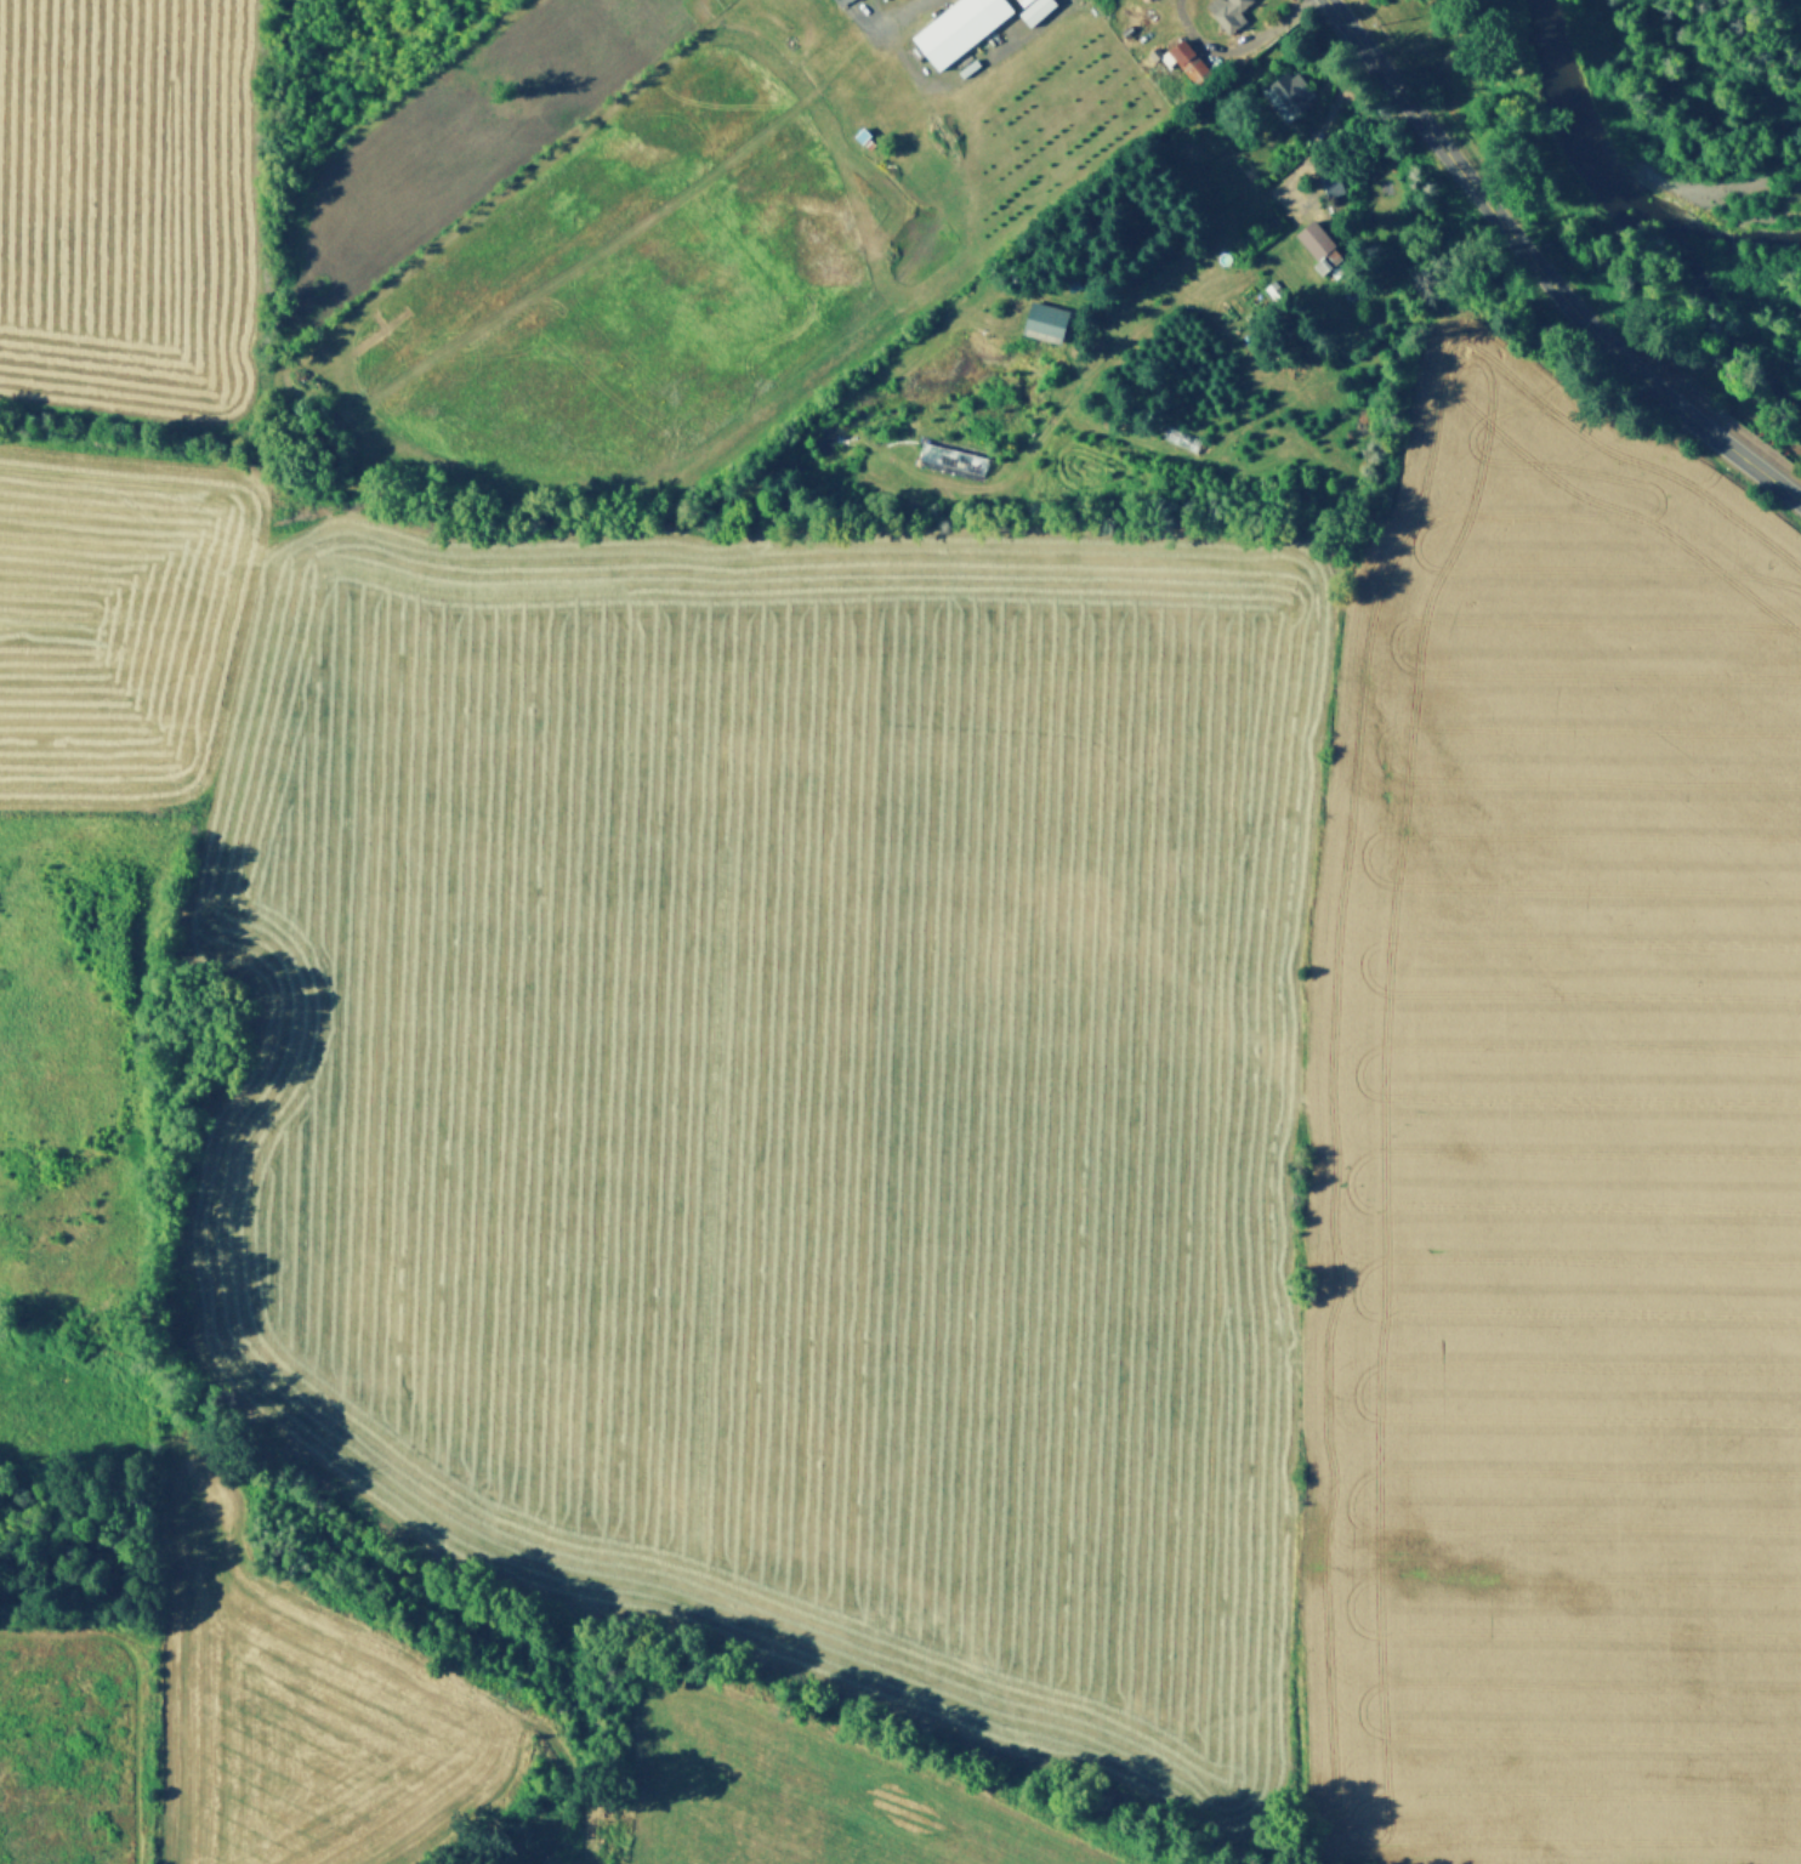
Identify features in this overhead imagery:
building: (1019, 0)
building: (1141, 0)
building: (1143, 0)
building: (840, 1)
building: (1028, 11)
road: (876, 12)
building: (1225, 12)
building: (956, 25)
building: (1153, 50)
building: (1186, 59)
road: (951, 76)
building: (1285, 91)
building: (853, 136)
road: (1313, 136)
building: (867, 141)
building: (1331, 181)
river: (1623, 189)
crop: (126, 211)
building: (1312, 240)
road: (1541, 269)
crop: (614, 286)
building: (1266, 294)
building: (1035, 322)
building: (950, 459)
crop: (117, 618)
crop: (782, 1095)
crop: (1546, 1160)

